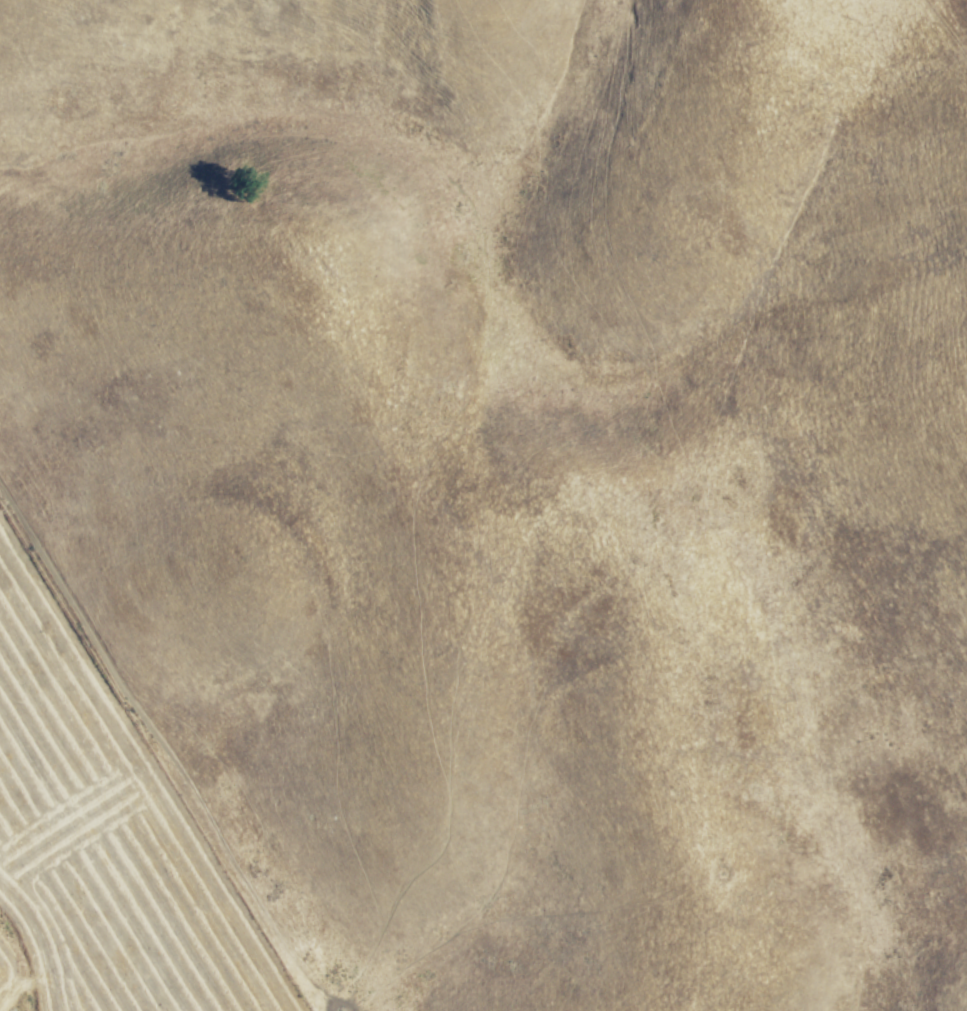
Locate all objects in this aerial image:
crop: (93, 845)

